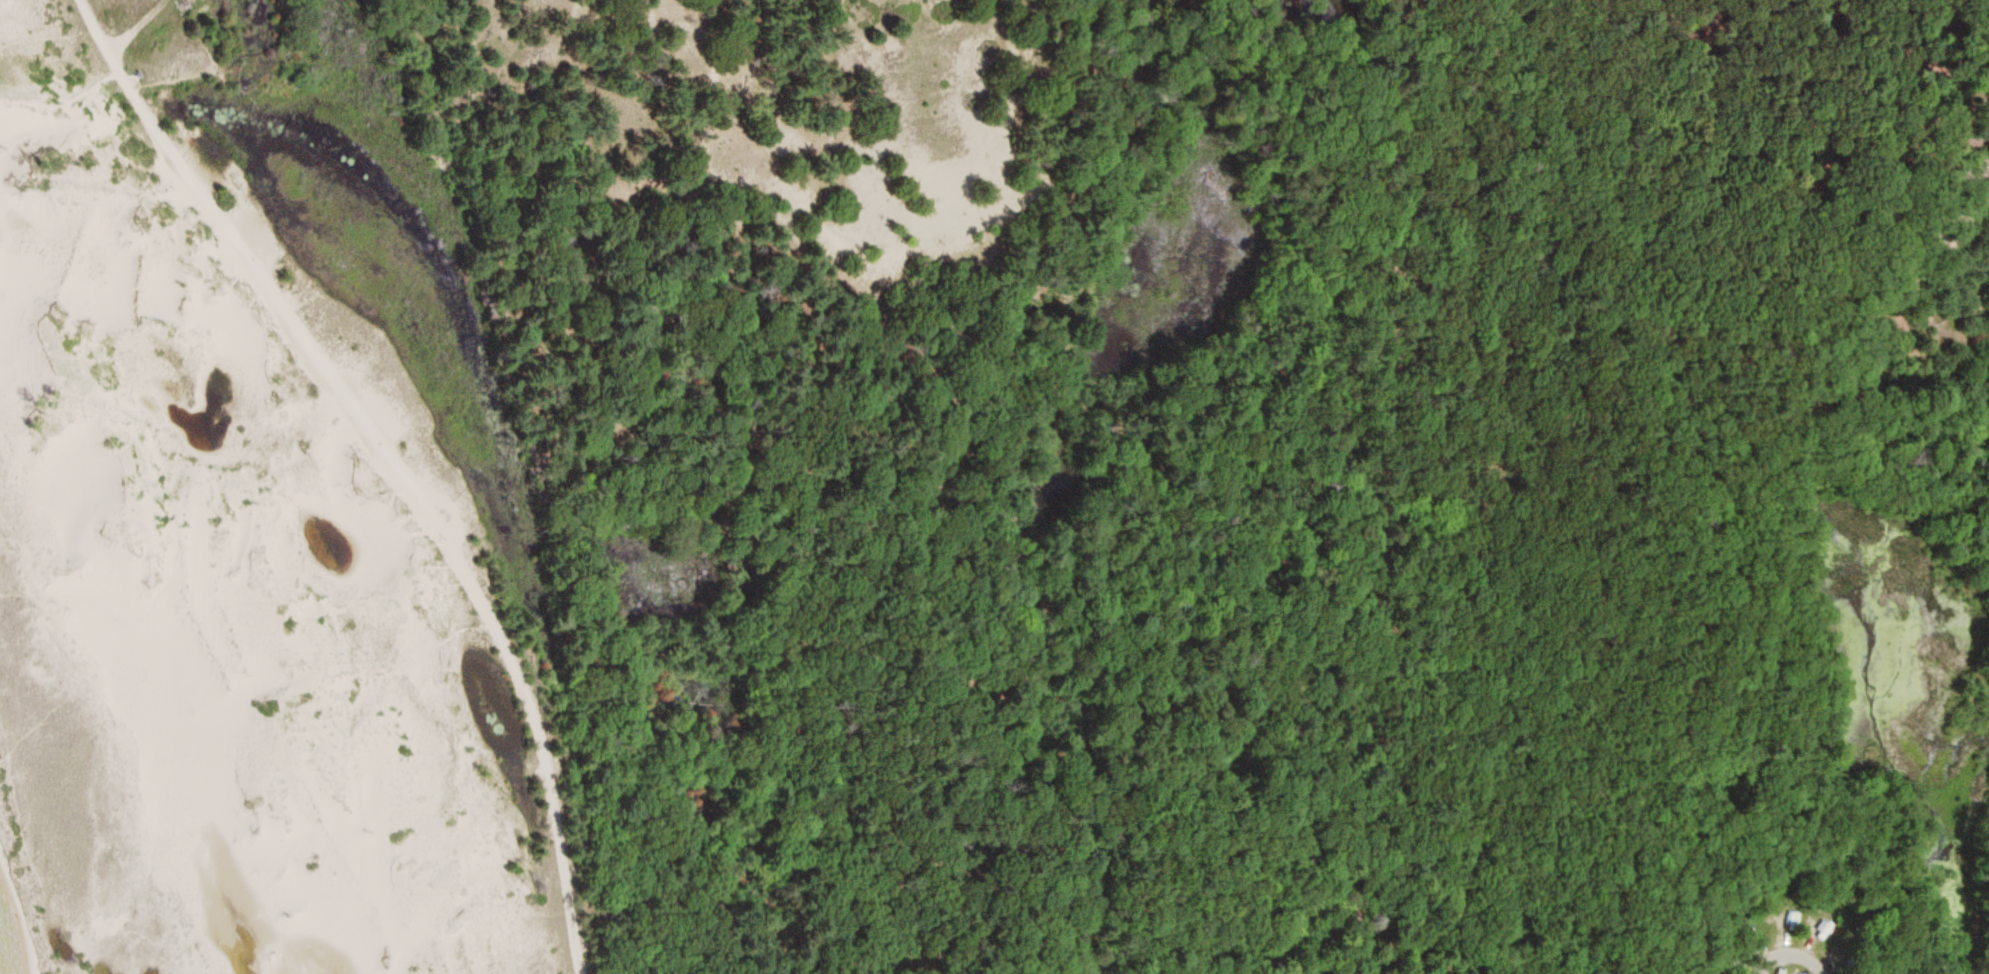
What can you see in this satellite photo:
road: (164, 83)
road: (1619, 405)
road: (1141, 434)
road: (1244, 455)
road: (397, 460)
park: (994, 487)
building: (1820, 930)
road: (1792, 951)

